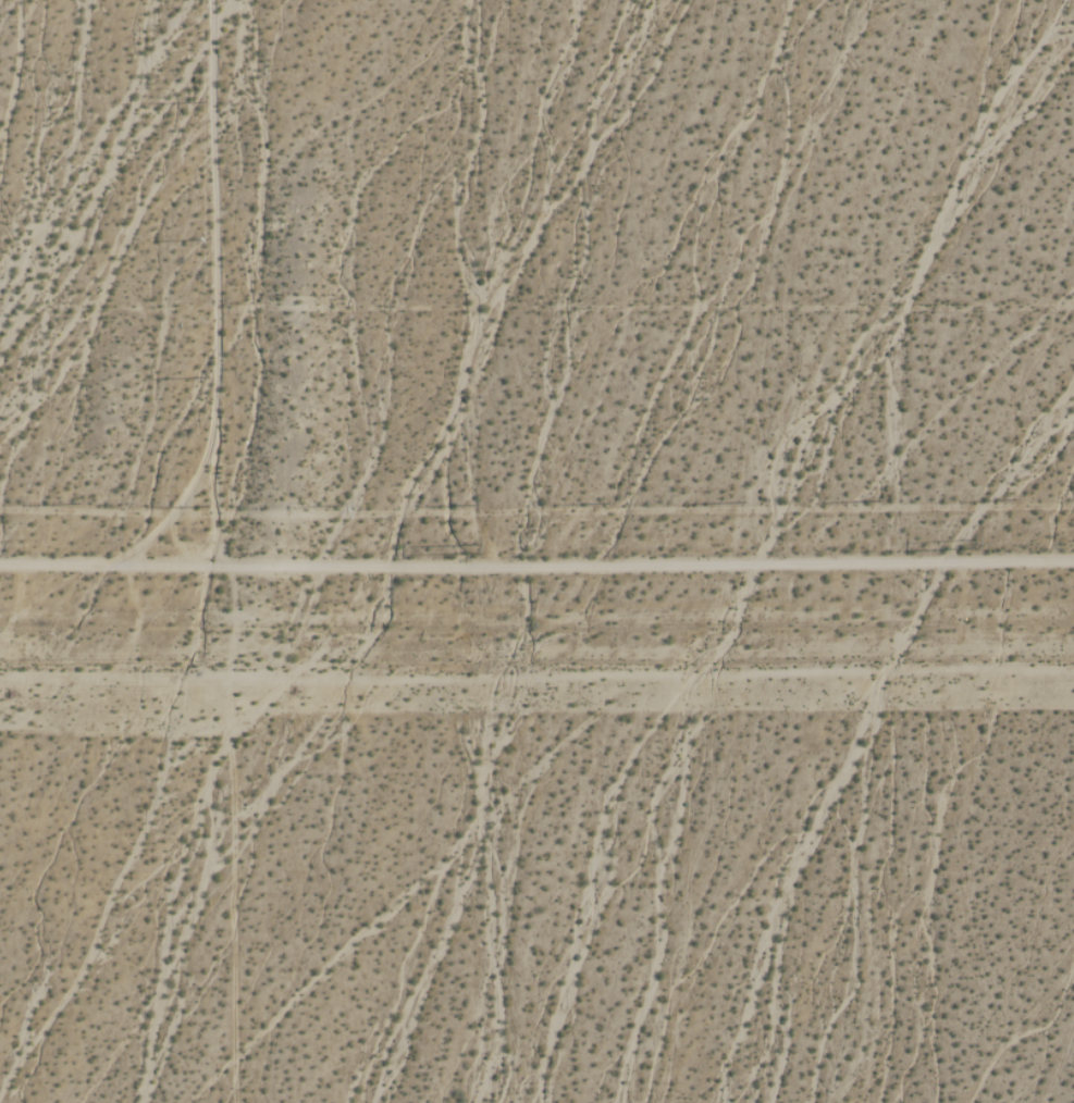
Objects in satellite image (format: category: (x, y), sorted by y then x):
power tower: (970, 544)
power tower: (468, 549)
road: (536, 569)

